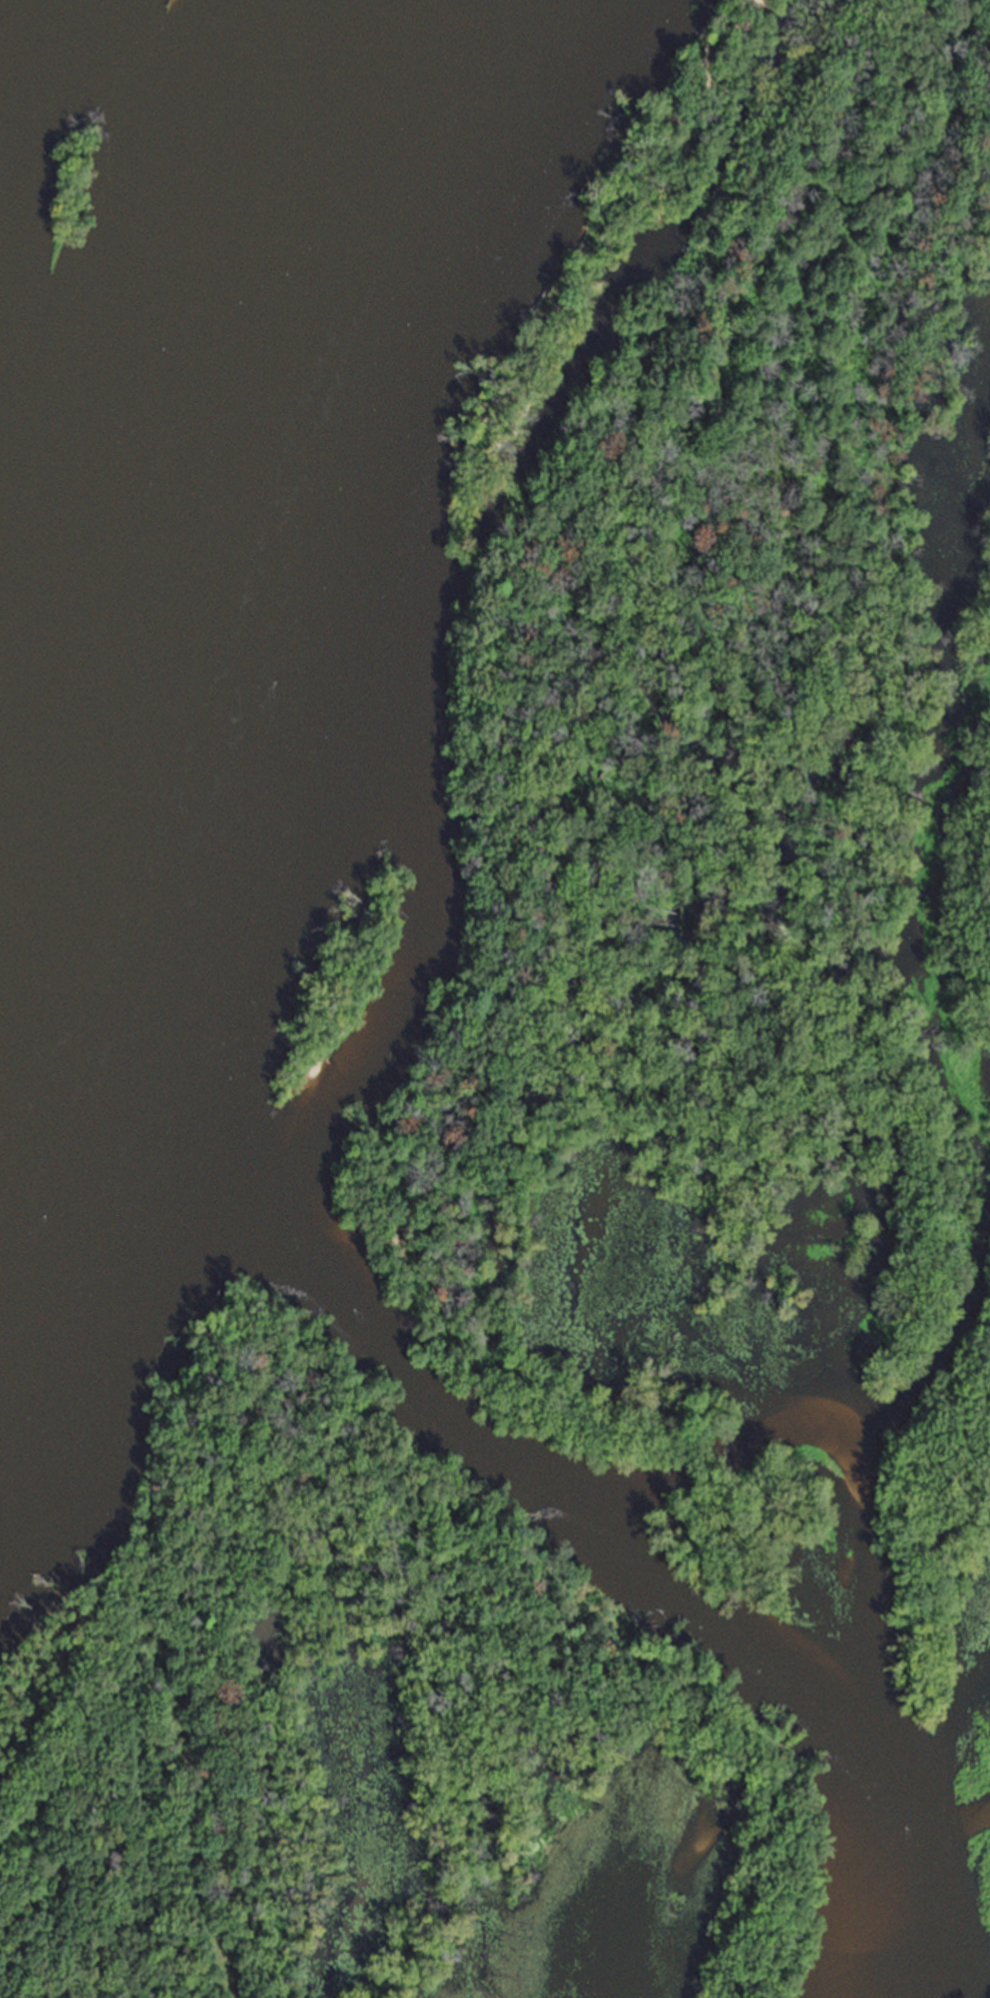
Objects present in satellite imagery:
river: (246, 433)

